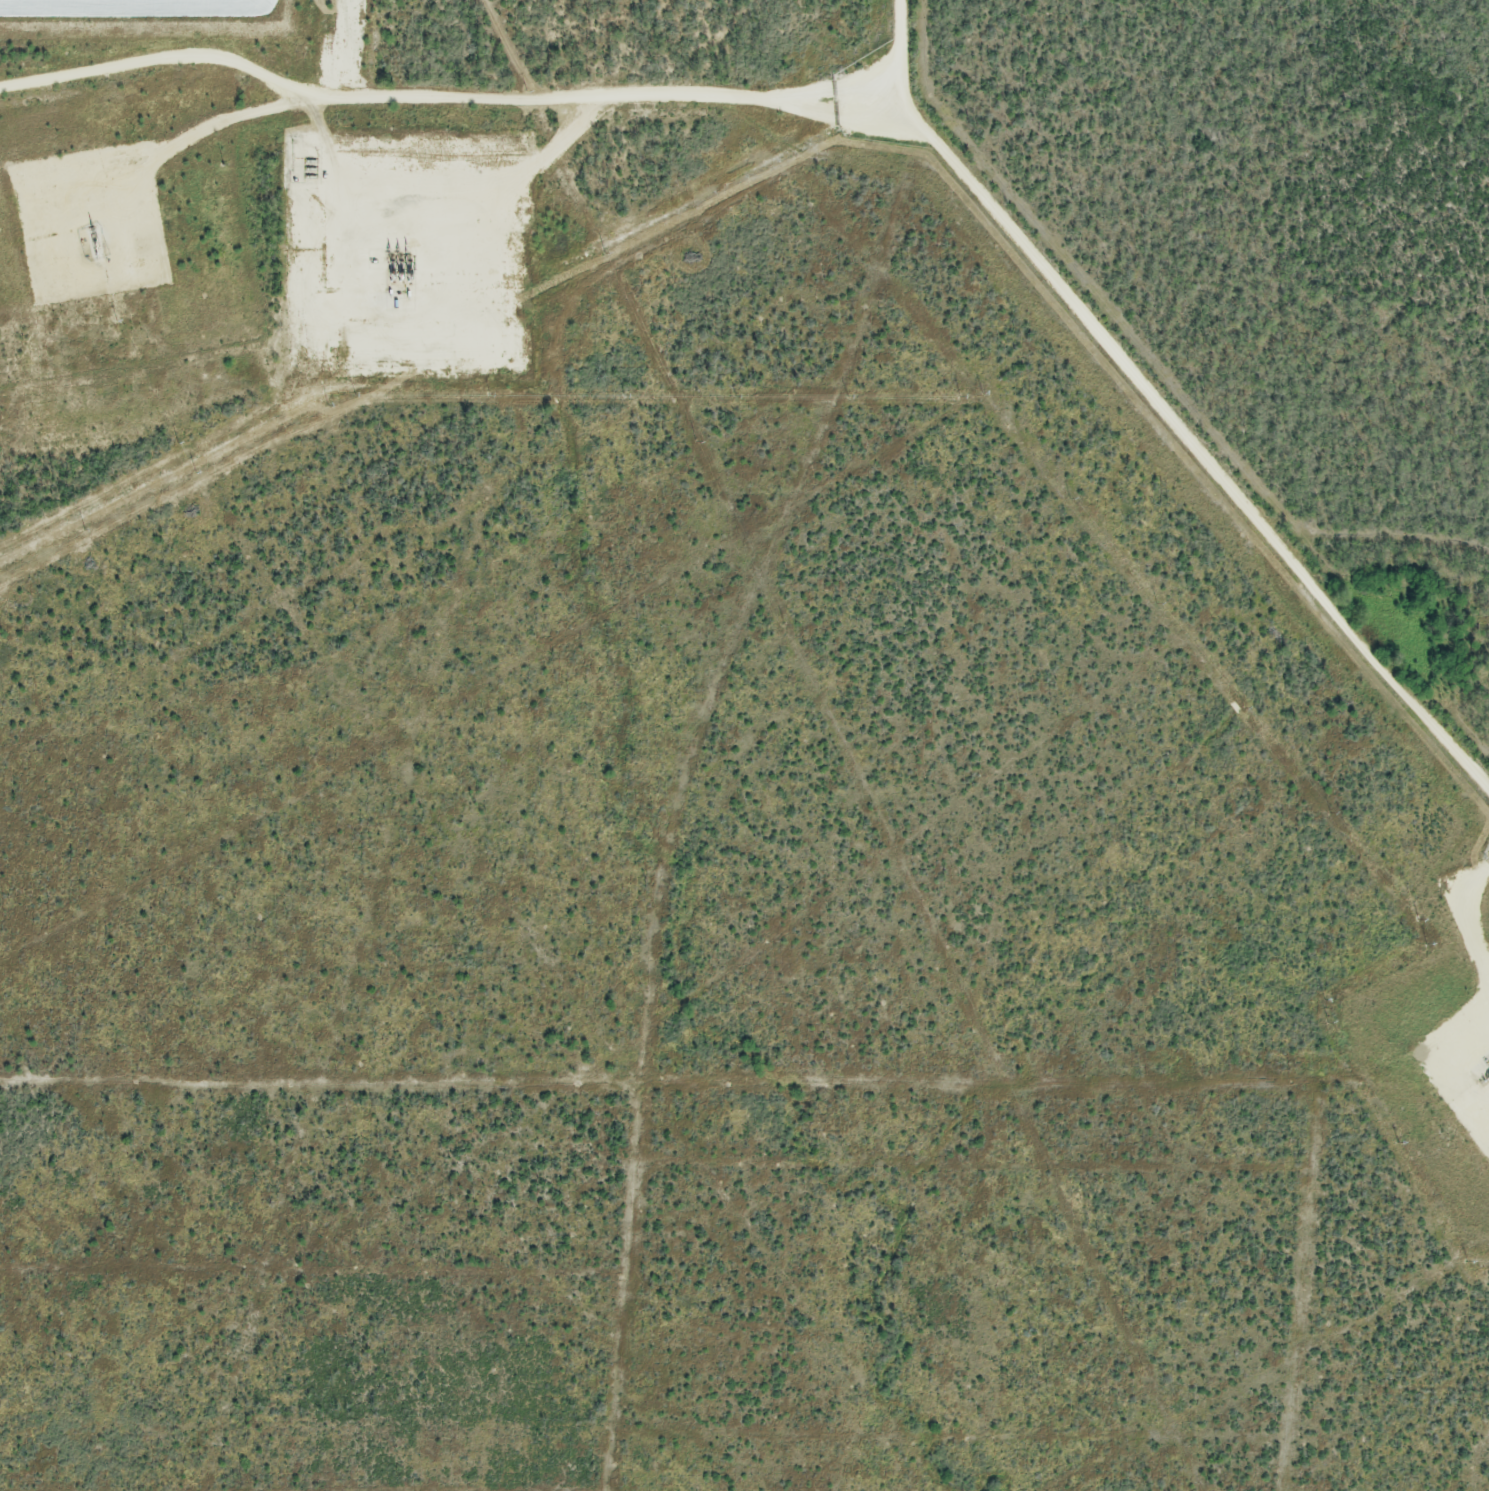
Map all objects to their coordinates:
road: (162, 64)
road: (510, 98)
road: (454, 308)
road: (1196, 442)
road: (1464, 903)

